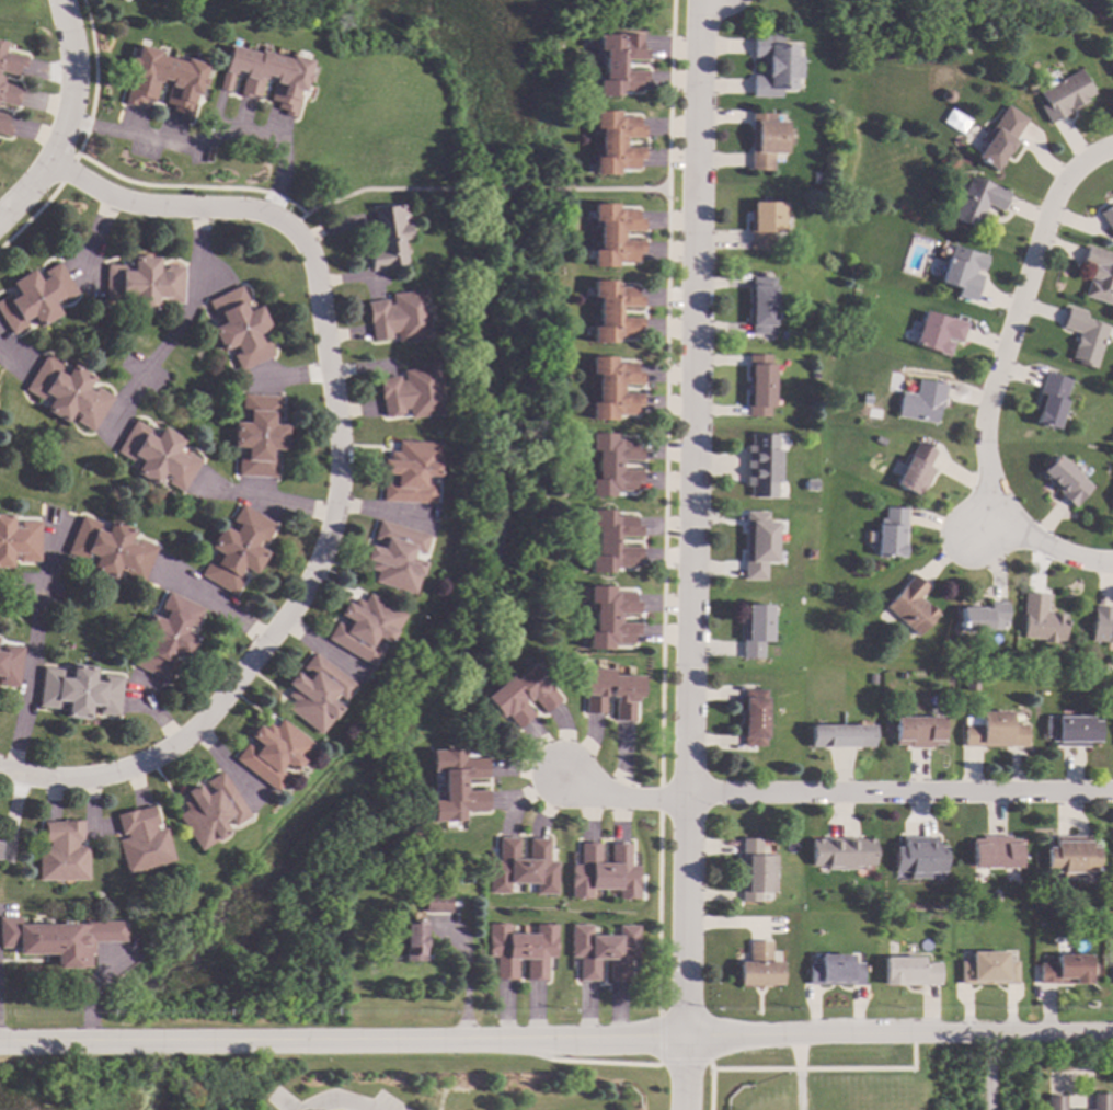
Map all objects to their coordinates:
building: (124, 0)
park: (933, 4)
building: (10, 61)
building: (619, 64)
building: (1110, 66)
building: (774, 67)
building: (163, 80)
building: (287, 85)
building: (8, 94)
park: (423, 94)
building: (945, 95)
building: (1063, 95)
road: (66, 117)
building: (3, 126)
building: (998, 136)
road: (210, 138)
building: (766, 141)
building: (617, 142)
road: (375, 188)
road: (497, 188)
road: (610, 190)
building: (975, 201)
building: (1106, 219)
building: (764, 224)
building: (616, 236)
building: (387, 238)
building: (961, 271)
building: (1098, 274)
building: (142, 284)
building: (34, 298)
building: (760, 306)
building: (615, 312)
building: (399, 318)
road: (179, 325)
building: (239, 329)
building: (853, 331)
building: (937, 332)
building: (1082, 336)
road: (3, 352)
road: (995, 381)
building: (757, 386)
building: (613, 389)
building: (67, 393)
building: (411, 393)
building: (920, 401)
building: (1049, 401)
building: (864, 410)
building: (259, 436)
building: (876, 442)
building: (157, 456)
building: (612, 466)
building: (761, 466)
building: (915, 469)
building: (411, 472)
road: (345, 473)
building: (1064, 481)
road: (280, 506)
road: (388, 511)
road: (688, 520)
building: (891, 534)
building: (18, 540)
building: (611, 542)
building: (758, 545)
building: (111, 549)
building: (237, 550)
building: (811, 554)
building: (395, 557)
road: (216, 603)
building: (910, 606)
building: (983, 617)
building: (610, 618)
building: (1040, 619)
building: (1102, 625)
building: (364, 628)
building: (756, 630)
building: (167, 637)
road: (33, 649)
building: (9, 665)
building: (1026, 675)
building: (872, 679)
building: (971, 686)
building: (78, 691)
building: (610, 691)
building: (315, 694)
building: (521, 695)
building: (1022, 714)
road: (157, 716)
building: (754, 718)
building: (1070, 730)
building: (918, 732)
building: (994, 732)
building: (841, 736)
building: (272, 753)
building: (456, 785)
road: (620, 794)
road: (897, 794)
building: (208, 811)
building: (140, 839)
building: (0, 845)
building: (62, 852)
building: (842, 852)
building: (995, 852)
building: (918, 857)
building: (1070, 857)
building: (523, 867)
building: (756, 871)
building: (604, 872)
building: (996, 897)
building: (374, 902)
building: (436, 903)
building: (1101, 917)
building: (59, 939)
building: (413, 941)
building: (520, 951)
building: (603, 951)
building: (759, 966)
building: (988, 970)
building: (1066, 970)
building: (835, 971)
building: (909, 972)
building: (1112, 972)
road: (470, 981)
road: (556, 1044)
building: (32, 1055)
road: (983, 1075)
road: (799, 1076)
road: (686, 1077)
building: (1100, 1102)
road: (334, 1103)
building: (1055, 1103)

